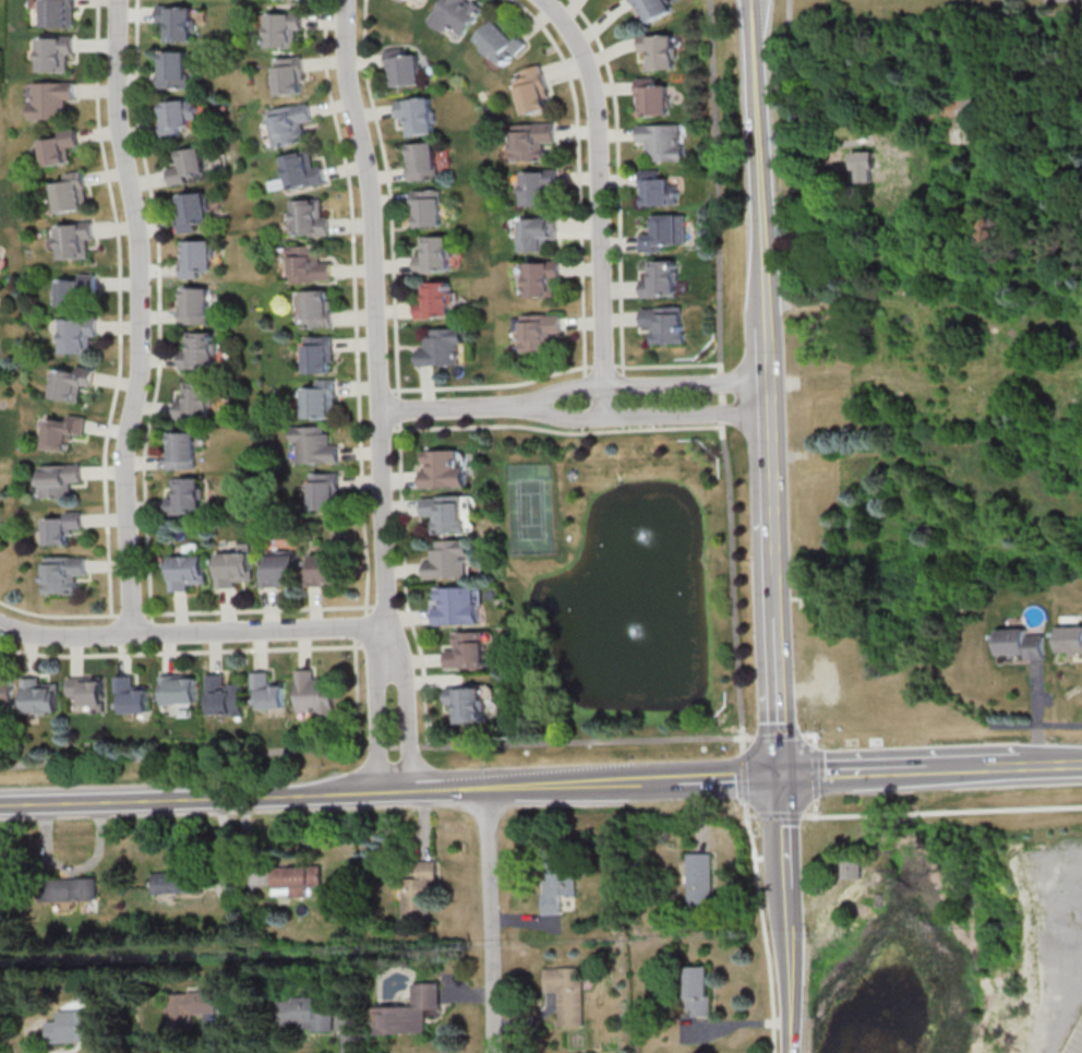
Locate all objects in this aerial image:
building: (290, 0)
building: (408, 2)
building: (651, 9)
road: (750, 11)
building: (59, 13)
road: (788, 13)
building: (456, 15)
building: (179, 25)
building: (284, 31)
building: (500, 43)
building: (658, 52)
building: (56, 55)
building: (404, 69)
building: (175, 70)
building: (289, 76)
building: (531, 91)
building: (50, 100)
building: (651, 100)
building: (180, 116)
building: (417, 116)
building: (289, 124)
building: (530, 142)
building: (661, 142)
building: (61, 148)
building: (422, 161)
building: (190, 167)
building: (876, 170)
building: (302, 171)
building: (538, 189)
building: (656, 192)
building: (72, 196)
road: (598, 201)
building: (428, 208)
building: (193, 213)
building: (311, 218)
road: (620, 225)
building: (536, 234)
building: (663, 234)
building: (76, 241)
building: (434, 255)
building: (199, 259)
building: (309, 265)
building: (661, 279)
building: (541, 280)
building: (76, 290)
building: (434, 301)
building: (196, 307)
building: (315, 310)
road: (141, 315)
building: (665, 325)
road: (375, 326)
building: (538, 333)
building: (79, 337)
building: (443, 348)
building: (199, 350)
building: (317, 357)
road: (122, 362)
road: (604, 366)
road: (720, 368)
road: (646, 383)
building: (73, 384)
road: (489, 386)
road: (398, 388)
road: (762, 399)
building: (320, 400)
building: (201, 403)
road: (457, 406)
road: (648, 415)
road: (402, 428)
building: (63, 432)
building: (314, 446)
building: (182, 452)
building: (443, 470)
building: (59, 481)
building: (324, 492)
building: (184, 496)
park: (531, 510)
building: (446, 514)
building: (62, 529)
building: (449, 561)
building: (231, 570)
building: (279, 571)
building: (324, 571)
building: (184, 573)
building: (63, 575)
park: (612, 586)
building: (454, 607)
road: (252, 610)
road: (130, 613)
road: (191, 631)
building: (1070, 642)
building: (1021, 645)
road: (361, 646)
road: (225, 650)
building: (466, 653)
building: (177, 692)
building: (86, 693)
building: (266, 694)
building: (5, 695)
building: (313, 696)
building: (40, 697)
building: (130, 698)
building: (221, 698)
building: (464, 705)
road: (405, 720)
road: (373, 721)
road: (1035, 726)
road: (370, 745)
road: (1025, 765)
road: (951, 769)
road: (856, 773)
traffic signals: (780, 777)
road: (722, 778)
road: (636, 782)
road: (506, 786)
road: (203, 795)
road: (947, 810)
road: (812, 814)
building: (852, 878)
building: (293, 881)
building: (696, 882)
building: (177, 884)
building: (555, 884)
building: (69, 890)
building: (418, 895)
road: (784, 914)
building: (825, 914)
road: (489, 920)
road: (762, 933)
building: (694, 993)
building: (564, 995)
building: (190, 1004)
building: (408, 1014)
building: (299, 1016)
building: (73, 1028)
parking lot: (1075, 1041)

